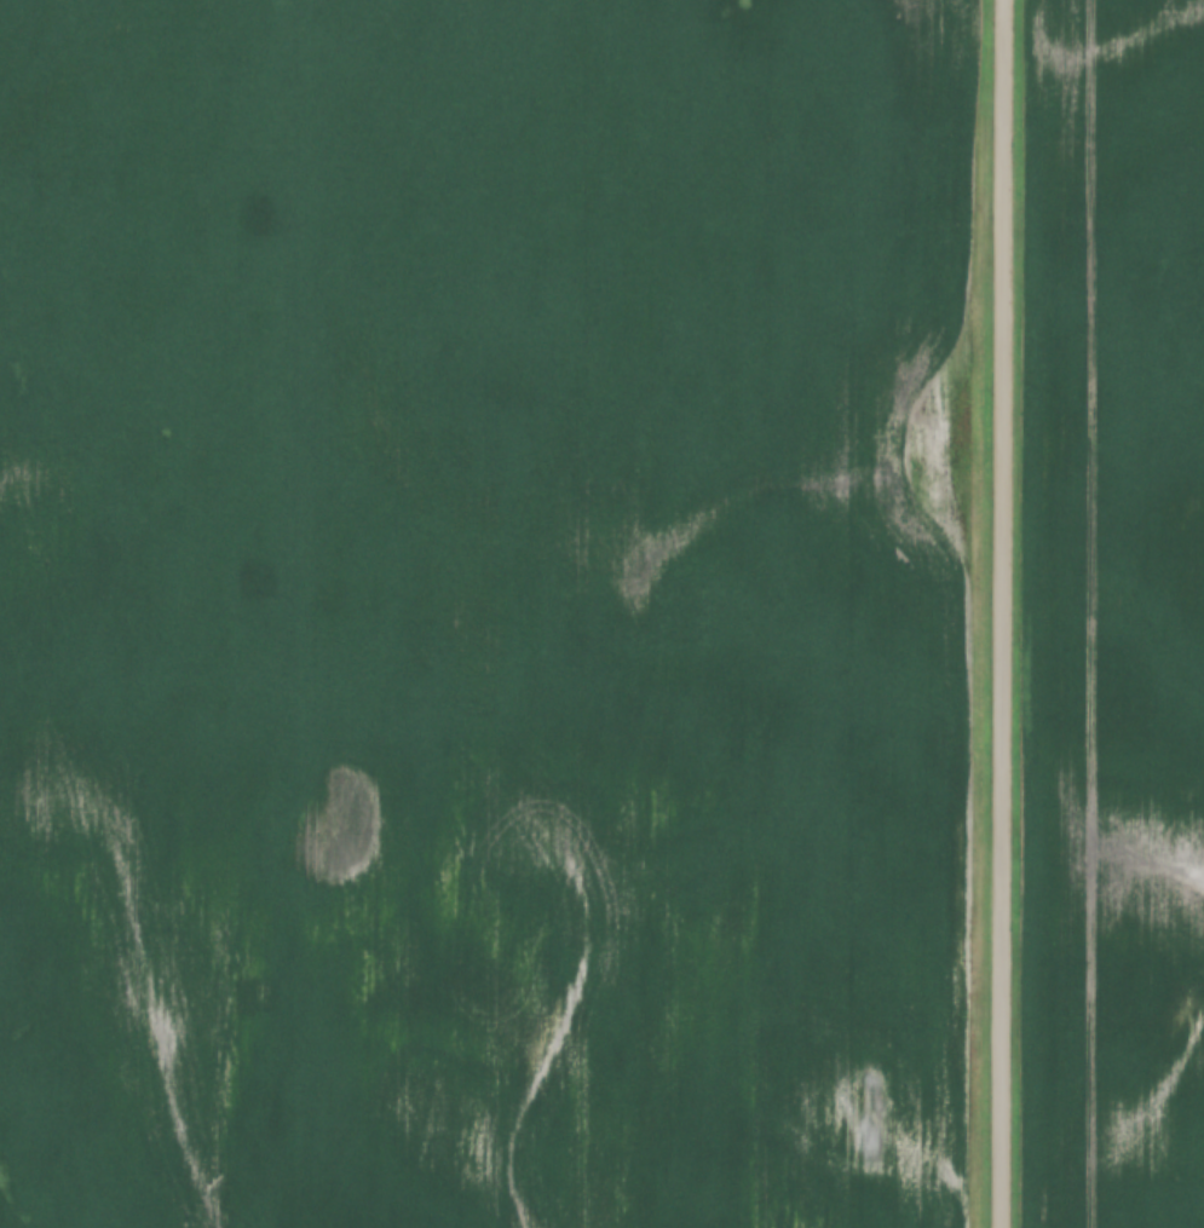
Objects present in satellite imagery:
road: (1006, 613)

